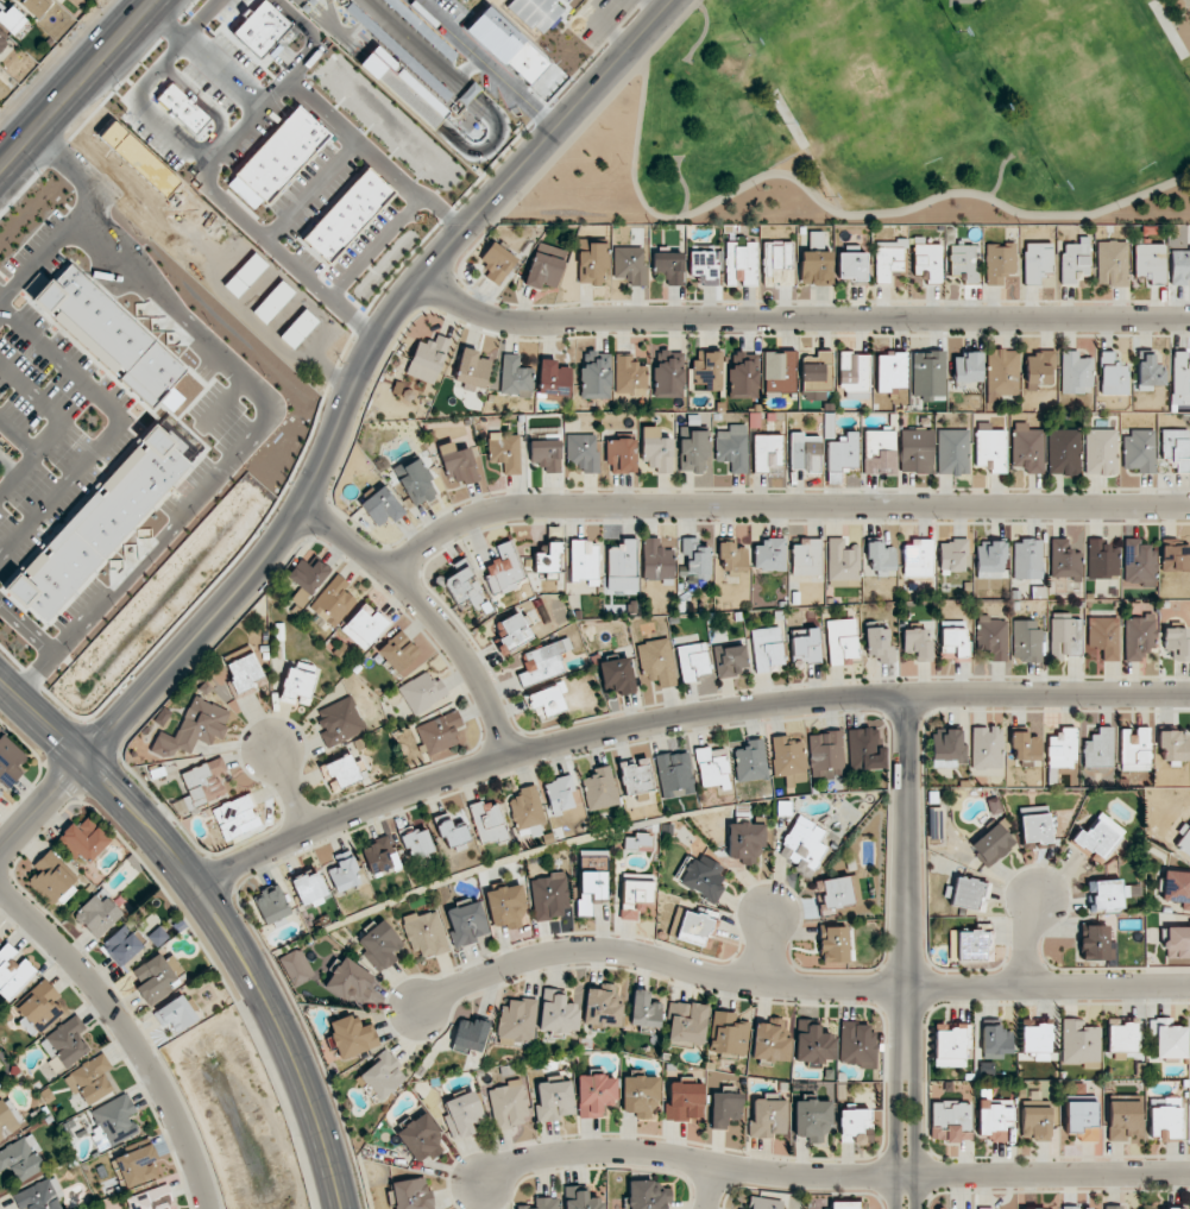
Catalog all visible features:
road: (313, 1)
road: (298, 2)
building: (36, 6)
power tower: (96, 8)
road: (306, 8)
road: (322, 10)
building: (537, 12)
building: (11, 18)
road: (322, 19)
building: (262, 29)
road: (338, 33)
road: (313, 36)
building: (2, 42)
road: (416, 44)
road: (204, 57)
road: (486, 64)
road: (466, 67)
road: (77, 84)
building: (403, 87)
road: (402, 90)
road: (468, 94)
building: (185, 112)
park: (889, 118)
road: (160, 127)
road: (489, 147)
road: (372, 156)
building: (278, 158)
road: (310, 189)
road: (830, 208)
building: (348, 215)
road: (374, 246)
road: (282, 252)
road: (45, 253)
building: (888, 258)
building: (927, 259)
building: (1037, 260)
building: (497, 262)
building: (964, 262)
building: (999, 262)
building: (1073, 262)
building: (777, 263)
building: (1112, 263)
building: (1148, 263)
building: (592, 264)
building: (629, 264)
building: (704, 264)
building: (741, 264)
building: (544, 265)
building: (851, 265)
building: (668, 266)
building: (816, 266)
building: (1179, 266)
building: (245, 275)
building: (272, 301)
road: (799, 319)
building: (298, 328)
building: (113, 338)
building: (428, 359)
road: (361, 367)
building: (968, 367)
building: (472, 369)
building: (1040, 369)
building: (817, 370)
building: (779, 371)
building: (854, 371)
building: (890, 371)
building: (707, 372)
building: (1002, 372)
building: (1075, 372)
building: (1150, 373)
building: (668, 374)
building: (927, 374)
building: (594, 376)
building: (630, 376)
building: (743, 376)
building: (1113, 376)
building: (1180, 376)
building: (515, 377)
building: (554, 379)
road: (260, 416)
road: (49, 427)
road: (113, 428)
building: (732, 447)
building: (1027, 447)
building: (1176, 447)
building: (656, 449)
building: (990, 449)
building: (915, 451)
building: (1139, 451)
building: (505, 452)
building: (583, 452)
building: (693, 452)
building: (879, 452)
building: (952, 452)
building: (1064, 452)
building: (1101, 452)
building: (805, 453)
building: (546, 454)
building: (621, 454)
building: (767, 454)
building: (842, 456)
building: (458, 464)
building: (415, 481)
road: (781, 500)
building: (382, 506)
building: (99, 524)
building: (770, 554)
building: (952, 555)
building: (731, 556)
building: (549, 558)
building: (806, 558)
building: (880, 558)
building: (918, 558)
building: (1176, 558)
building: (622, 559)
building: (695, 559)
building: (1027, 559)
building: (989, 560)
building: (1064, 560)
building: (1102, 560)
building: (656, 561)
building: (1139, 562)
building: (843, 563)
building: (504, 568)
building: (307, 579)
building: (462, 587)
building: (333, 600)
road: (429, 611)
building: (364, 625)
road: (26, 630)
building: (514, 631)
building: (1064, 635)
building: (1139, 636)
building: (993, 637)
building: (1103, 637)
building: (952, 638)
building: (842, 641)
building: (1026, 641)
building: (1177, 642)
building: (917, 643)
building: (879, 644)
building: (805, 646)
building: (767, 649)
building: (399, 653)
building: (729, 660)
building: (693, 661)
building: (543, 662)
building: (657, 662)
building: (245, 673)
building: (617, 675)
building: (297, 685)
building: (422, 692)
building: (547, 699)
road: (680, 716)
building: (339, 720)
road: (43, 724)
building: (193, 728)
building: (439, 732)
building: (1025, 745)
building: (1172, 745)
building: (987, 748)
building: (1062, 748)
building: (864, 749)
building: (947, 749)
building: (1098, 749)
building: (1135, 749)
building: (825, 754)
building: (788, 758)
building: (10, 761)
building: (750, 761)
building: (712, 767)
building: (345, 769)
building: (674, 774)
building: (635, 775)
building: (204, 783)
building: (599, 788)
road: (288, 789)
building: (0, 793)
building: (559, 794)
building: (525, 808)
road: (43, 810)
building: (235, 817)
building: (487, 821)
building: (1035, 826)
building: (451, 830)
building: (1098, 837)
building: (84, 839)
building: (416, 840)
building: (745, 842)
building: (1184, 842)
building: (991, 844)
building: (804, 845)
building: (382, 857)
building: (701, 877)
building: (52, 880)
building: (309, 887)
building: (1177, 888)
building: (591, 889)
building: (835, 892)
building: (969, 893)
building: (635, 894)
building: (1107, 894)
building: (549, 896)
building: (271, 906)
building: (508, 906)
building: (96, 915)
building: (466, 923)
building: (698, 927)
building: (424, 933)
building: (0, 939)
road: (1021, 939)
building: (1177, 942)
building: (1095, 943)
building: (835, 944)
building: (122, 945)
building: (379, 945)
building: (967, 945)
road: (760, 947)
road: (899, 949)
road: (251, 964)
building: (296, 966)
building: (12, 972)
building: (157, 977)
building: (350, 982)
road: (794, 987)
building: (38, 1007)
building: (602, 1007)
building: (644, 1009)
building: (558, 1012)
building: (176, 1014)
building: (517, 1019)
building: (687, 1022)
road: (128, 1031)
building: (728, 1033)
building: (471, 1034)
building: (352, 1035)
building: (1121, 1035)
building: (1035, 1038)
building: (1167, 1038)
building: (770, 1040)
building: (67, 1041)
building: (995, 1041)
building: (1079, 1041)
building: (812, 1043)
building: (856, 1044)
building: (951, 1044)
building: (380, 1077)
building: (90, 1079)
building: (596, 1095)
building: (640, 1096)
building: (554, 1100)
building: (685, 1101)
building: (509, 1103)
building: (725, 1108)
building: (462, 1114)
building: (768, 1116)
building: (8, 1117)
building: (994, 1117)
building: (812, 1119)
building: (1082, 1119)
building: (1123, 1120)
building: (1165, 1120)
building: (113, 1121)
building: (951, 1121)
building: (1035, 1123)
building: (855, 1126)
building: (420, 1136)
building: (21, 1158)
building: (137, 1166)
road: (823, 1178)
road: (707, 1189)
building: (411, 1194)
building: (649, 1195)
building: (39, 1196)
building: (580, 1198)
building: (151, 1199)
building: (543, 1203)
building: (763, 1203)
building: (844, 1204)
building: (1070, 1207)
building: (1113, 1207)
building: (984, 1208)
building: (1171, 1208)

